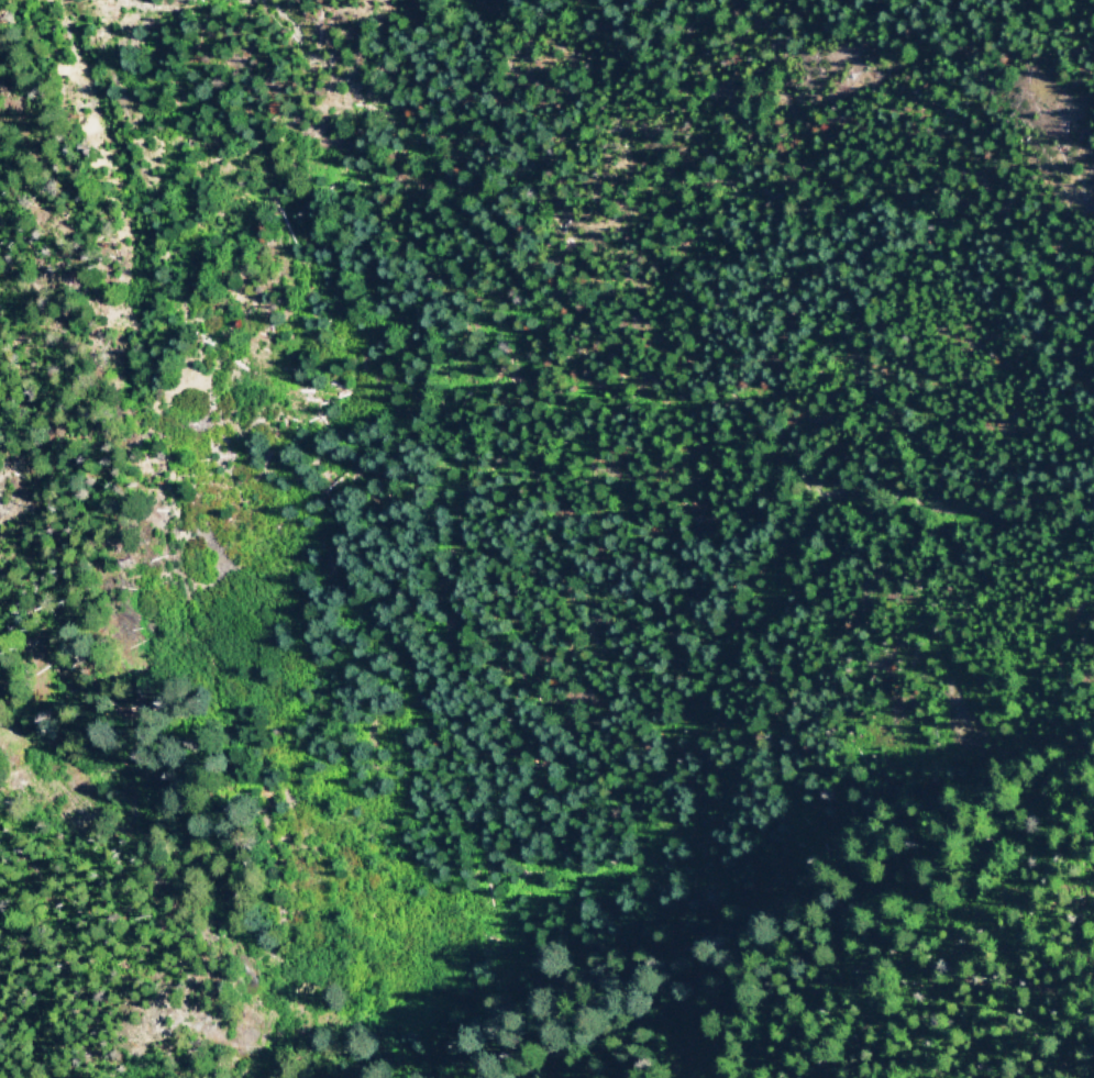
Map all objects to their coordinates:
road: (92, 130)

